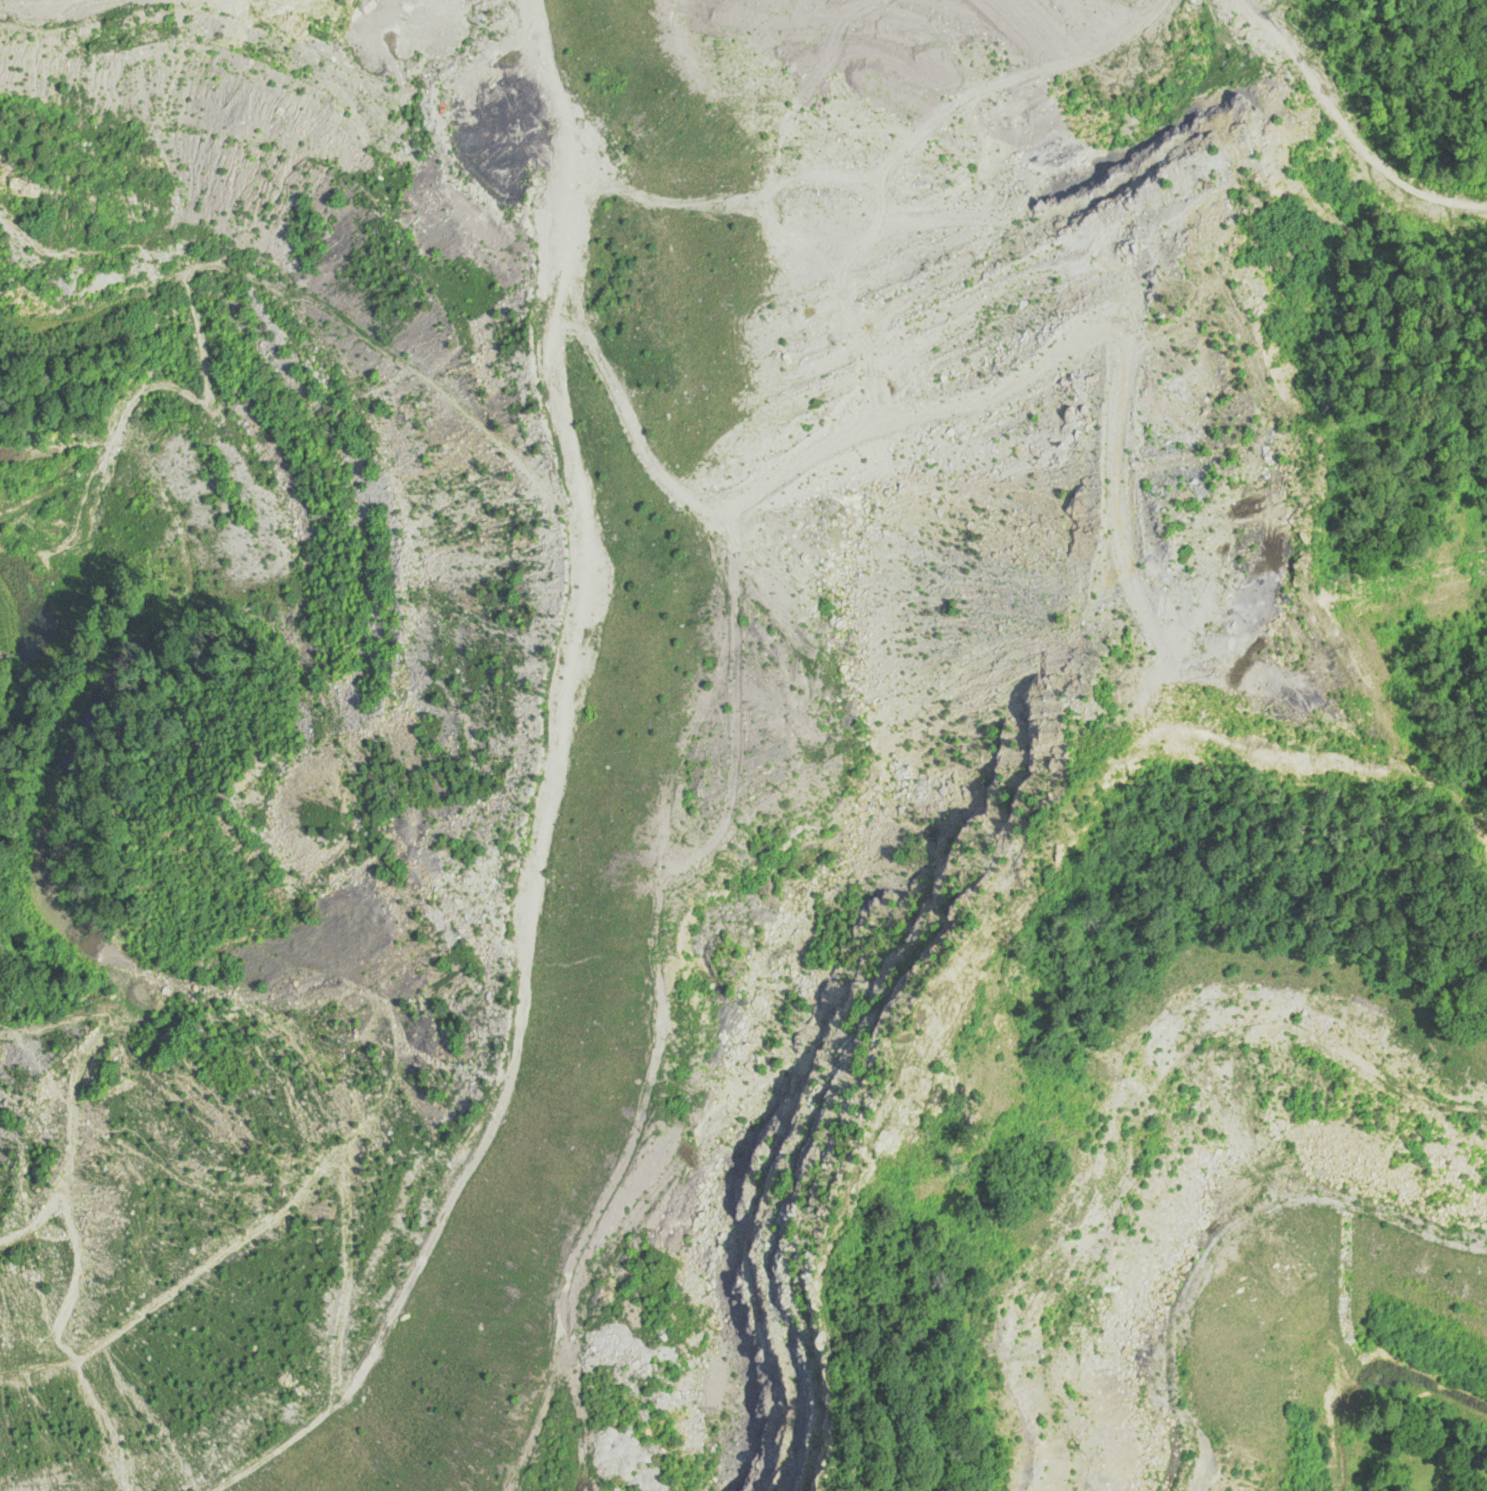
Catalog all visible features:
road: (704, 199)

